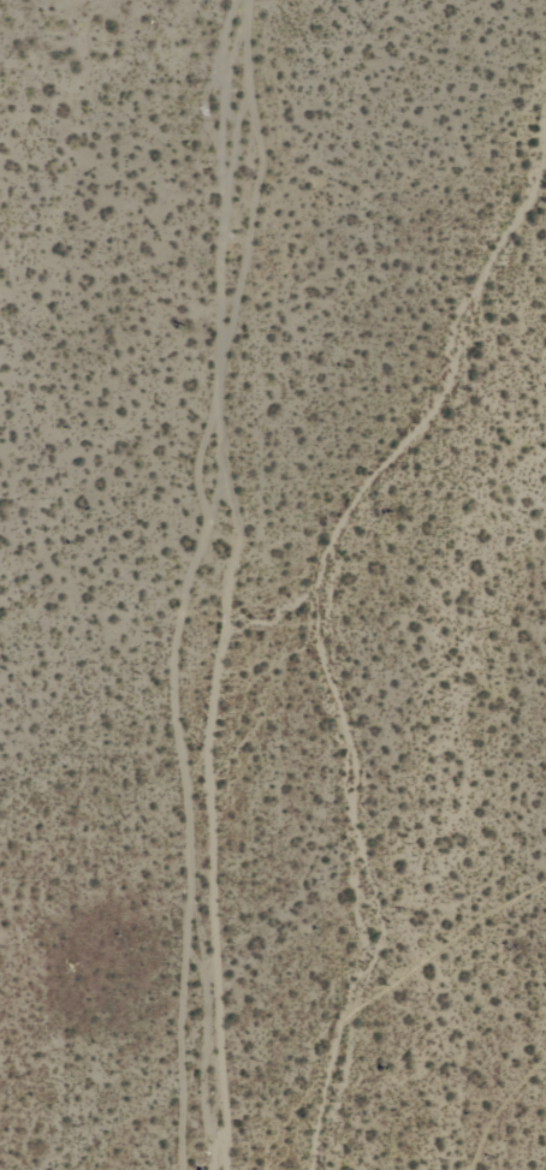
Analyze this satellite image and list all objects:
road: (225, 584)

